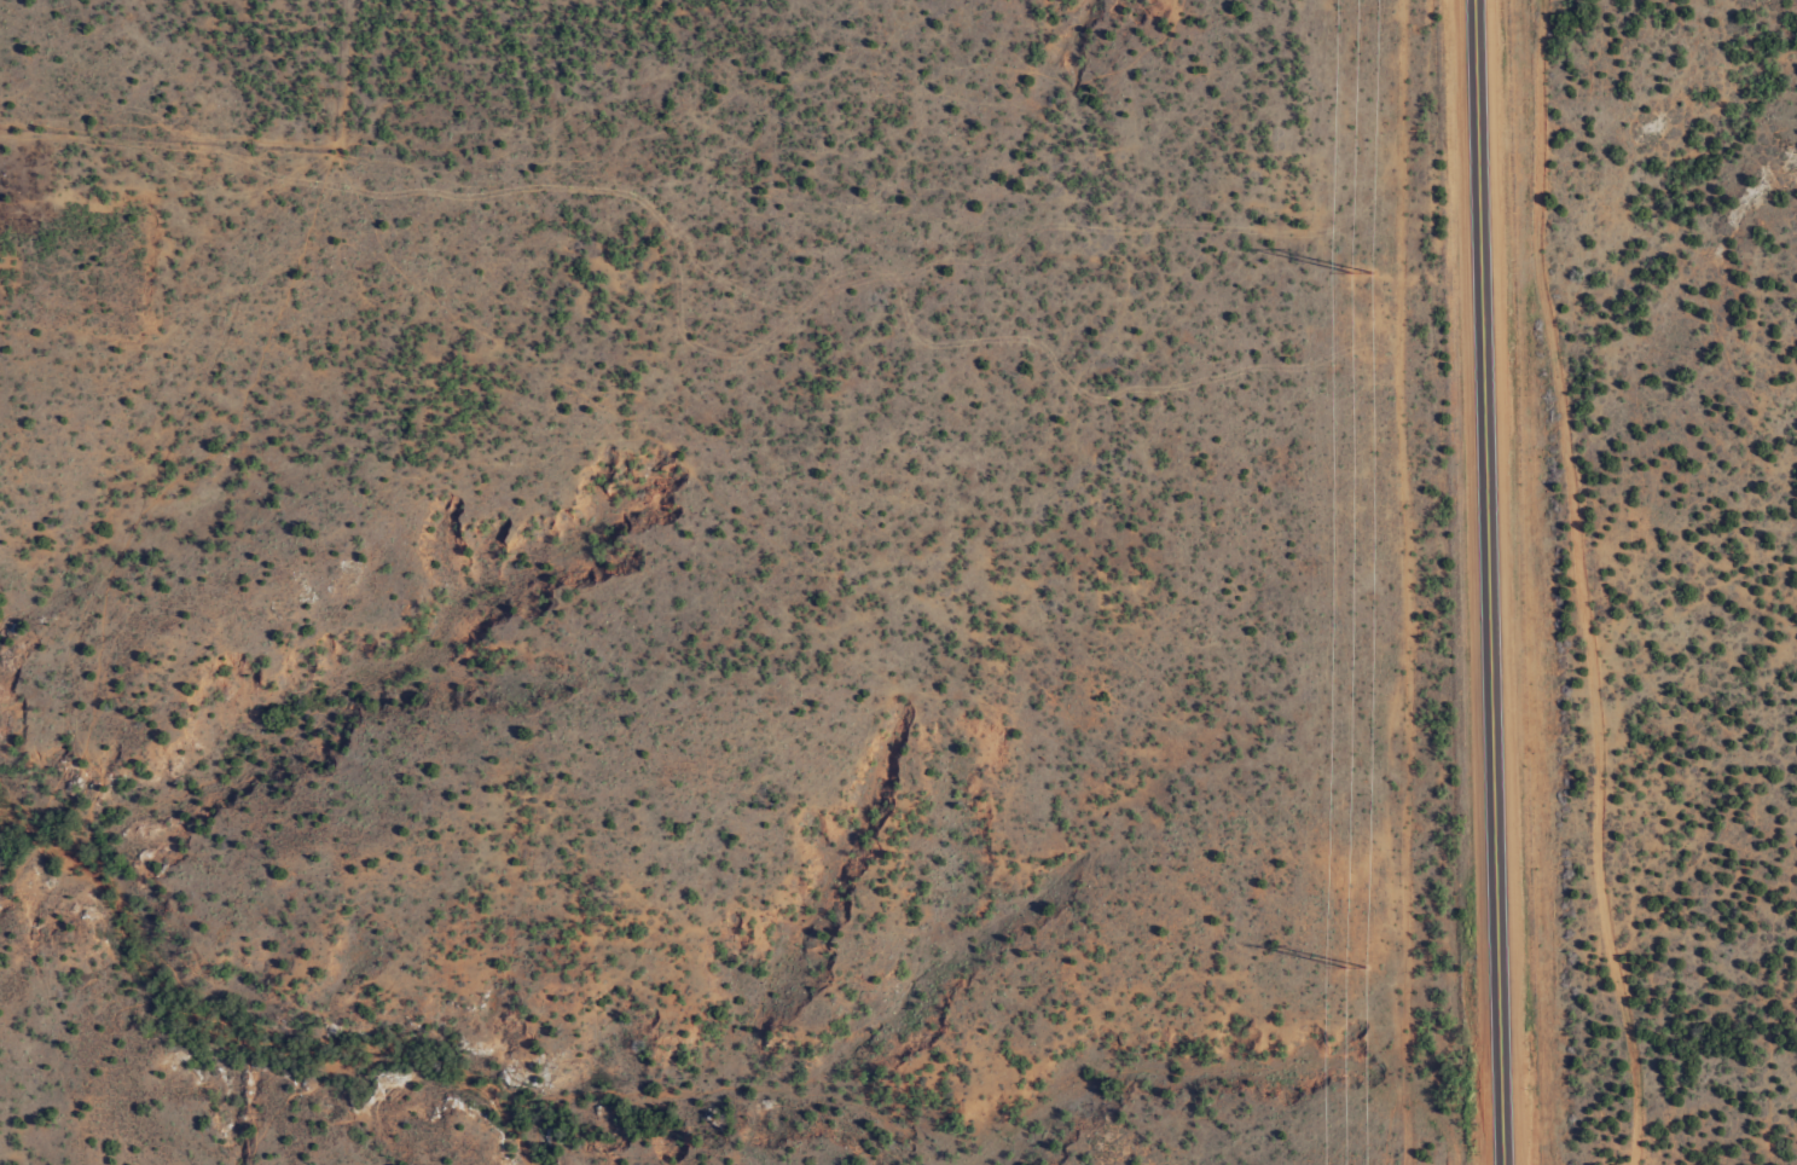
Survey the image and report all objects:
power tower: (1362, 271)
road: (1486, 582)
power tower: (1352, 969)

